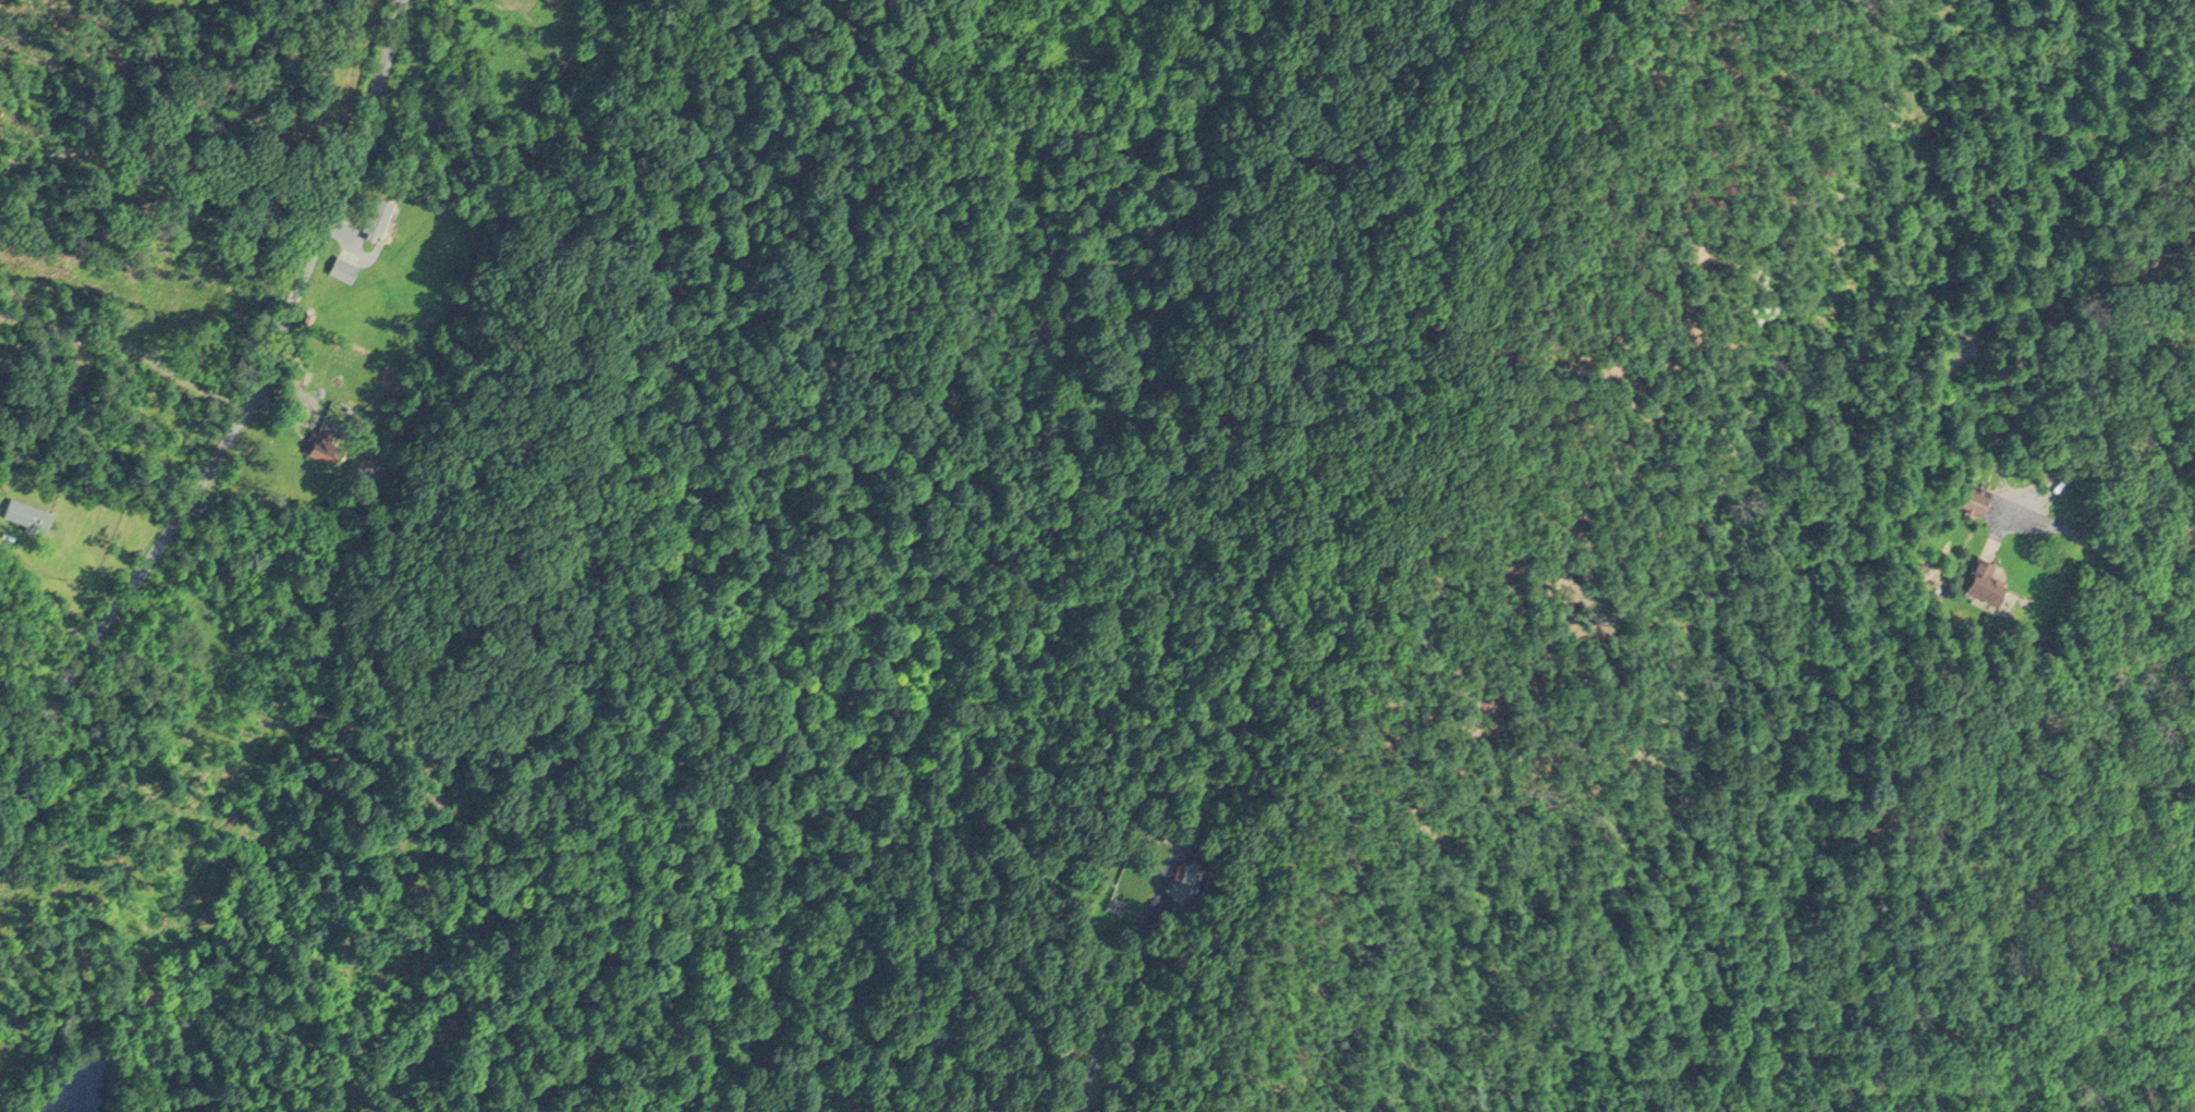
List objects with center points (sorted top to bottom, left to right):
building: (344, 266)
road: (125, 349)
road: (239, 416)
building: (318, 441)
building: (1975, 497)
building: (27, 509)
road: (2134, 573)
building: (1985, 576)

